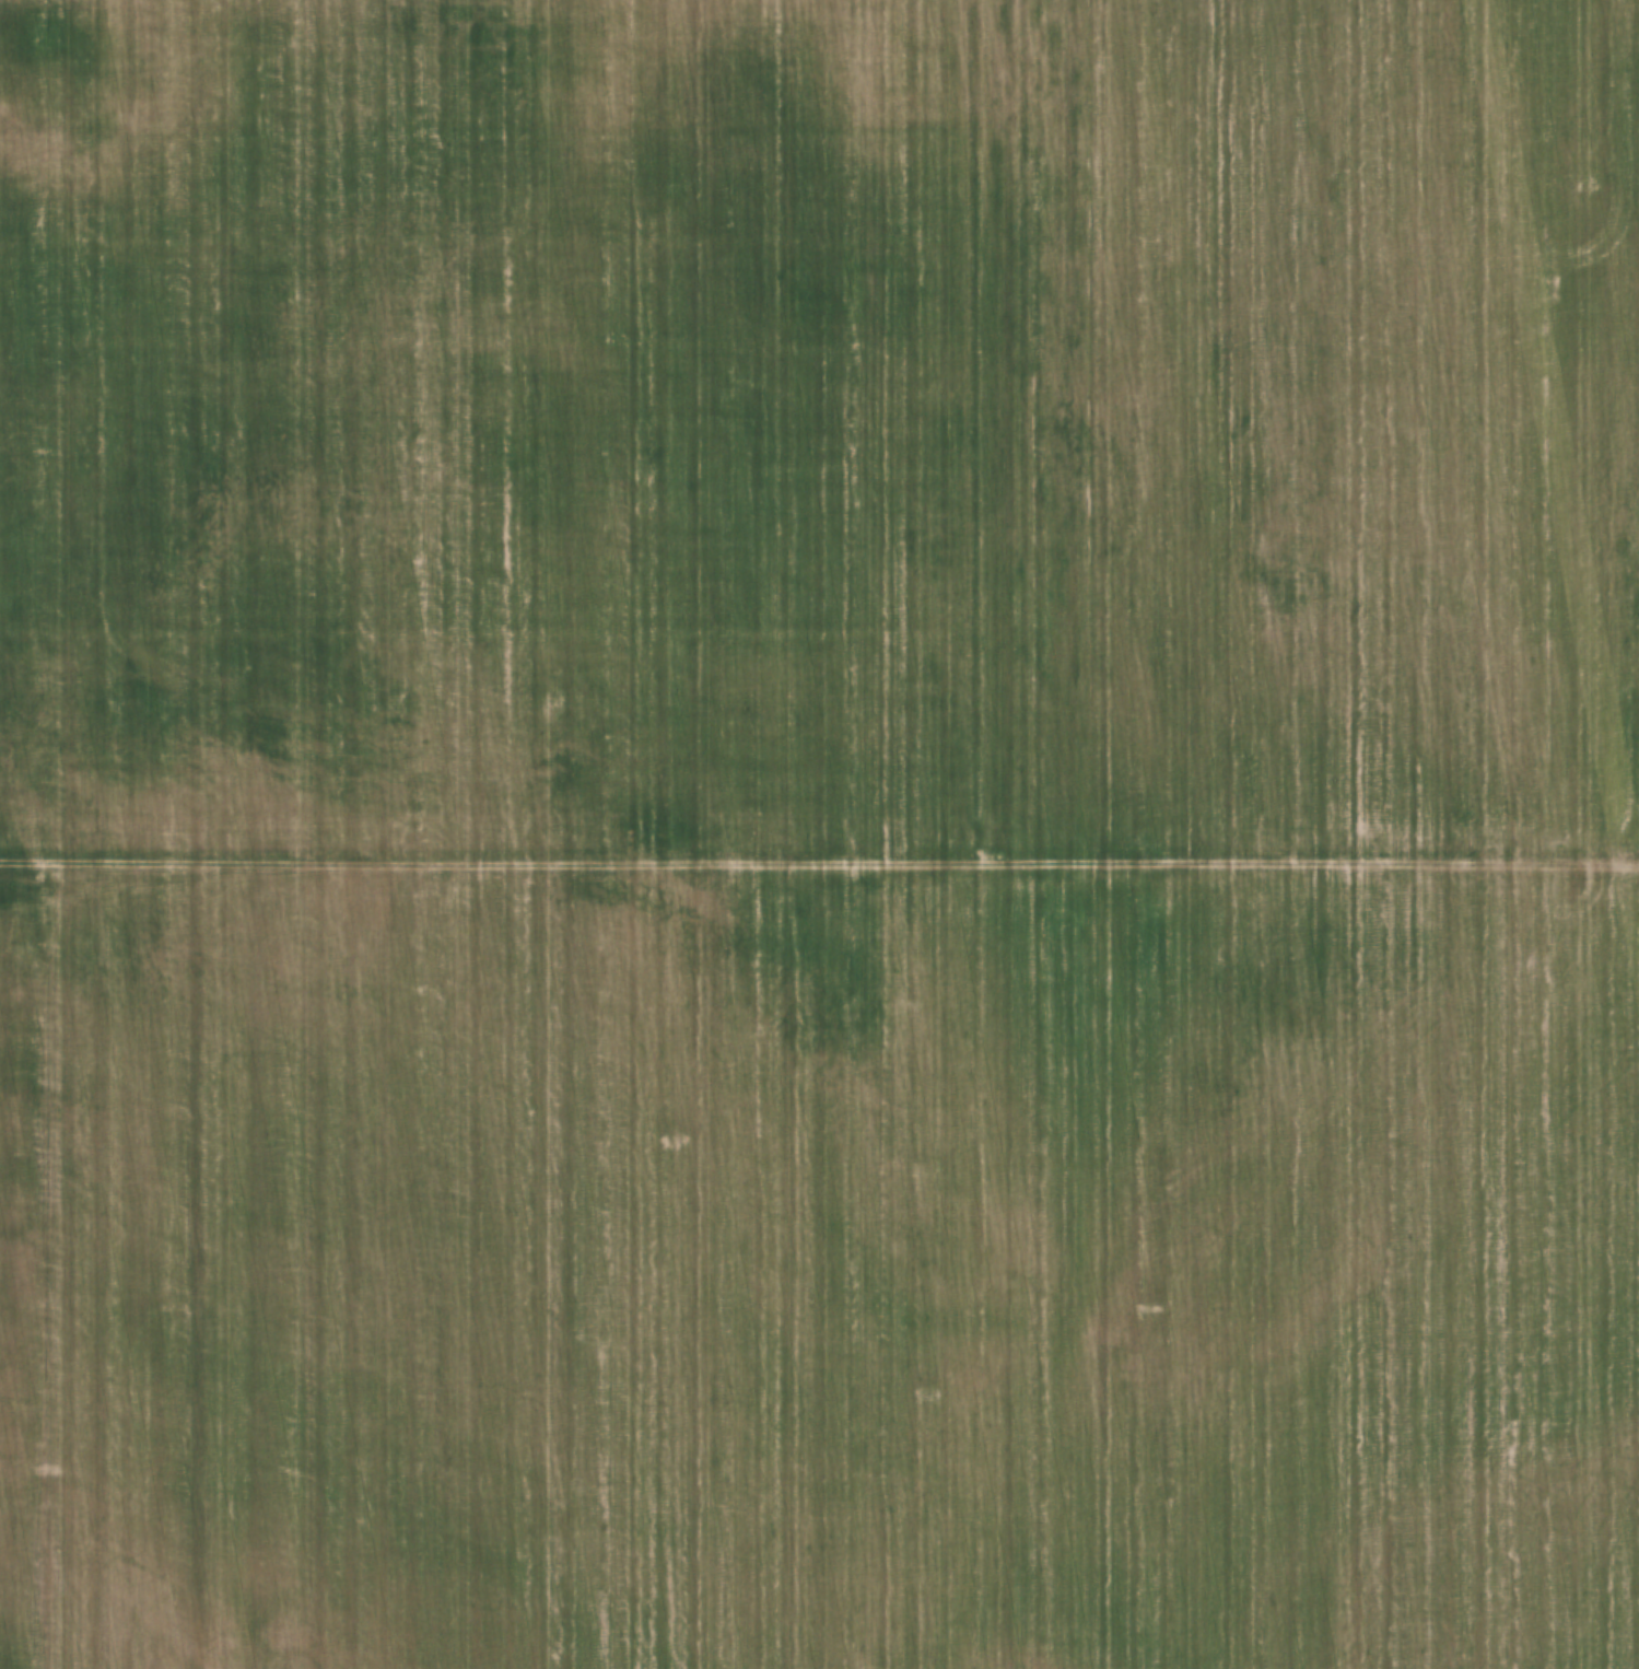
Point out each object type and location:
road: (819, 867)

